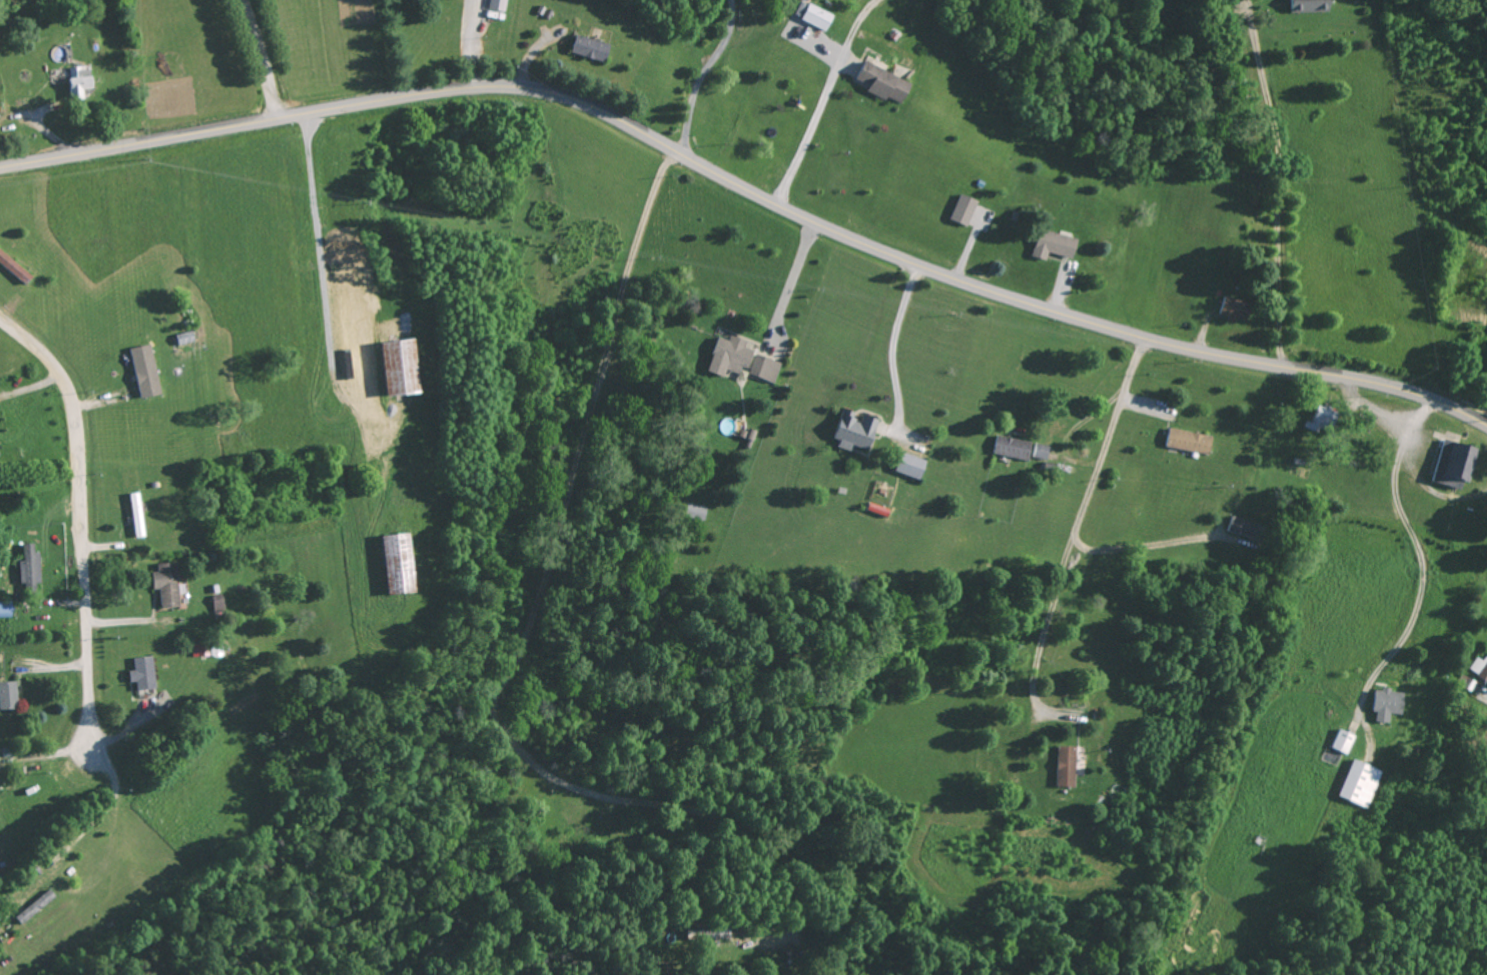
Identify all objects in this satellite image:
building: (496, 4)
building: (1307, 5)
building: (811, 15)
building: (587, 47)
road: (262, 59)
road: (651, 63)
building: (77, 80)
building: (881, 82)
road: (853, 111)
road: (748, 192)
building: (961, 209)
building: (1051, 245)
building: (13, 268)
building: (1232, 309)
building: (728, 355)
building: (398, 366)
building: (763, 368)
building: (143, 370)
building: (1319, 418)
building: (854, 430)
building: (1186, 440)
building: (1010, 447)
building: (1038, 451)
building: (1452, 464)
building: (909, 465)
building: (693, 512)
building: (135, 514)
building: (1245, 528)
road: (80, 530)
road: (1214, 533)
building: (395, 563)
building: (28, 568)
building: (165, 584)
road: (851, 586)
building: (217, 603)
building: (4, 608)
building: (1478, 668)
building: (141, 673)
road: (1342, 682)
building: (7, 695)
building: (1385, 704)
building: (1341, 741)
building: (1064, 766)
building: (1358, 783)
building: (33, 907)

